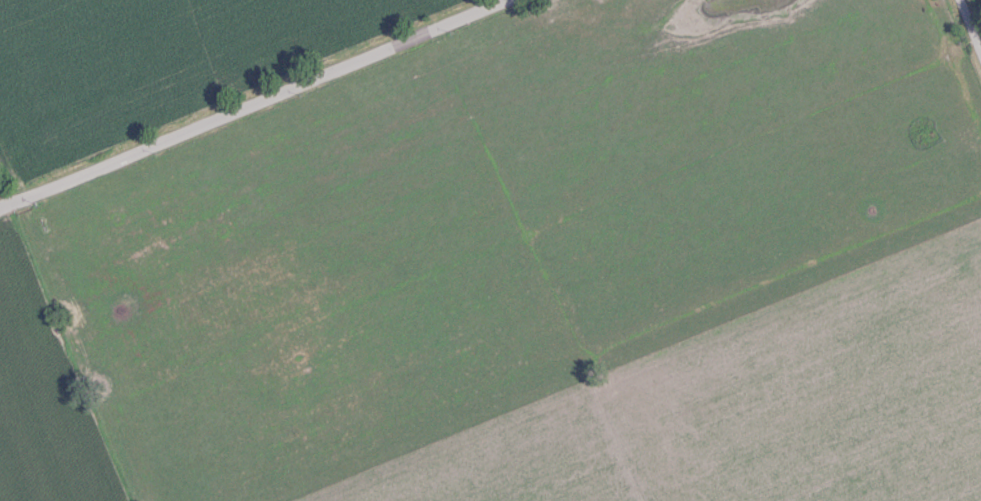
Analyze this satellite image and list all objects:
road: (972, 20)
road: (259, 98)
road: (11, 200)

